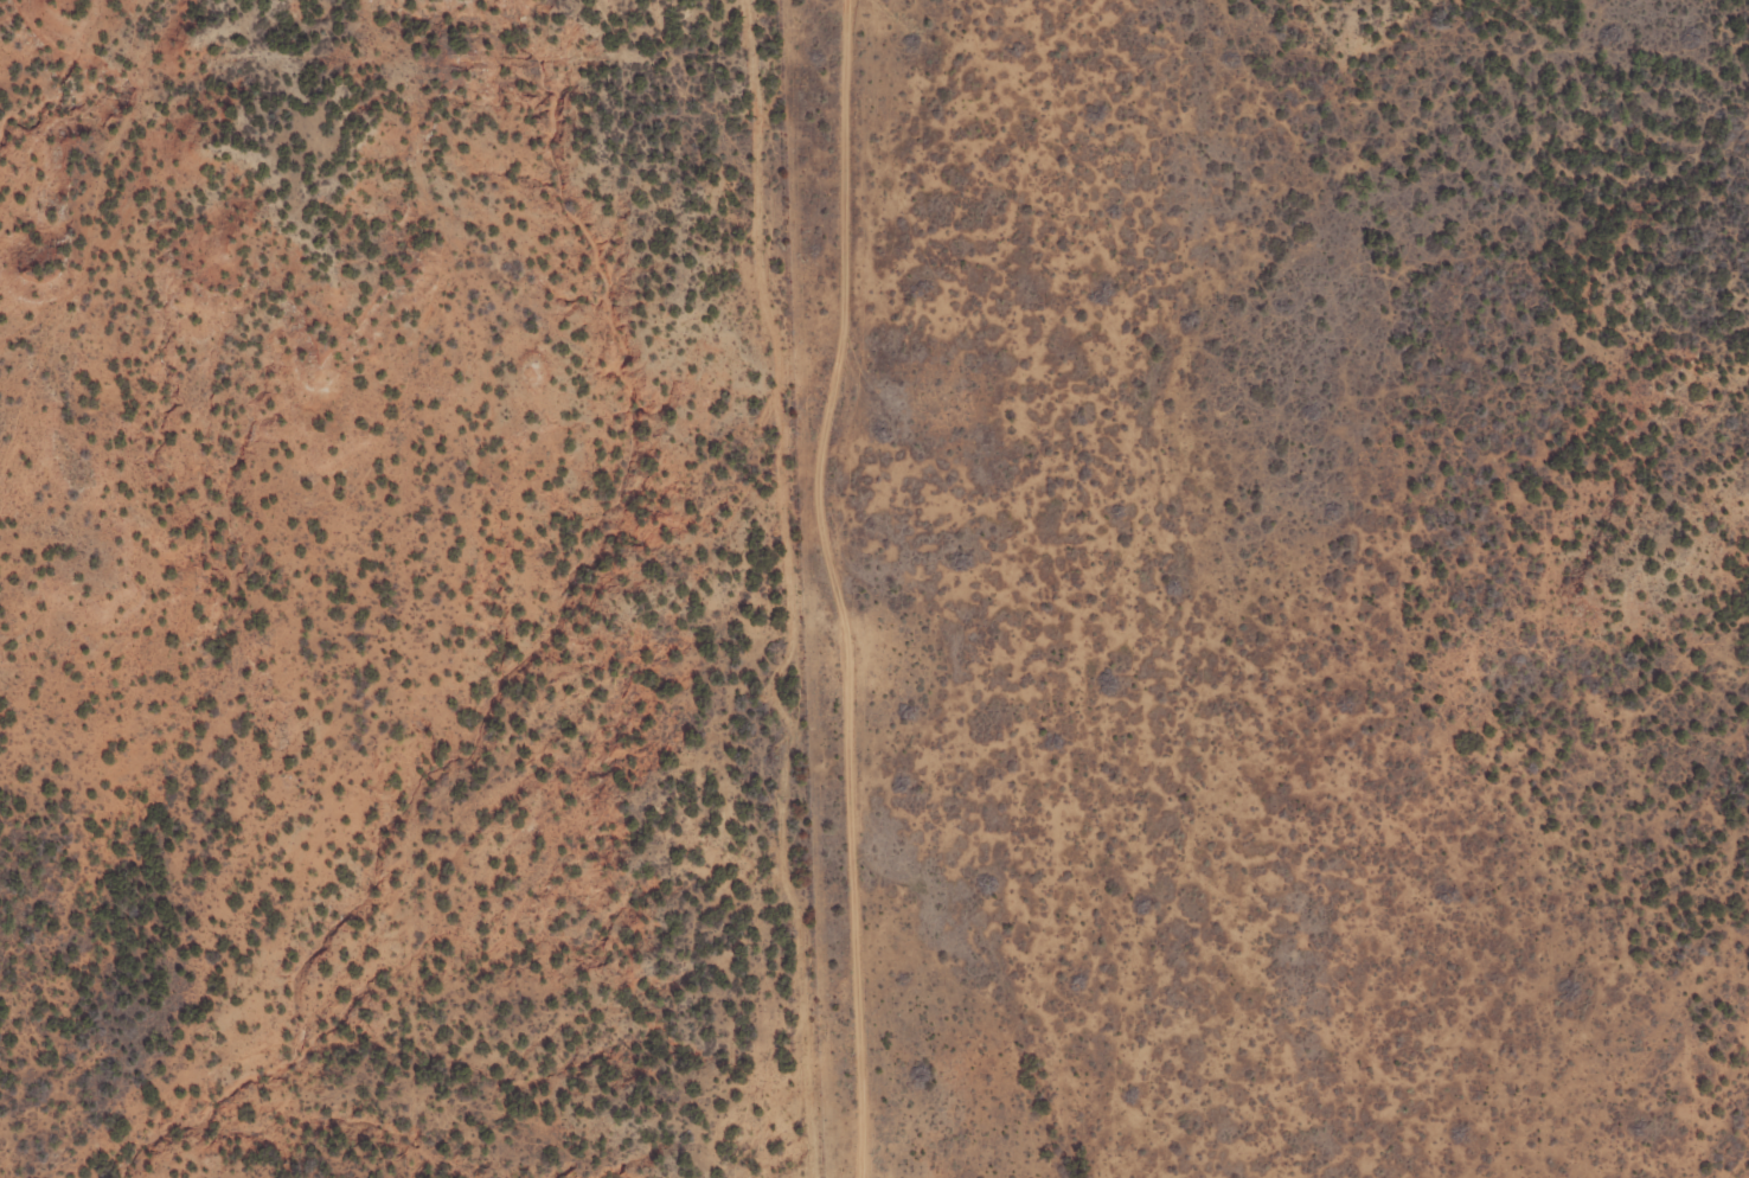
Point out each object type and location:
road: (826, 589)

